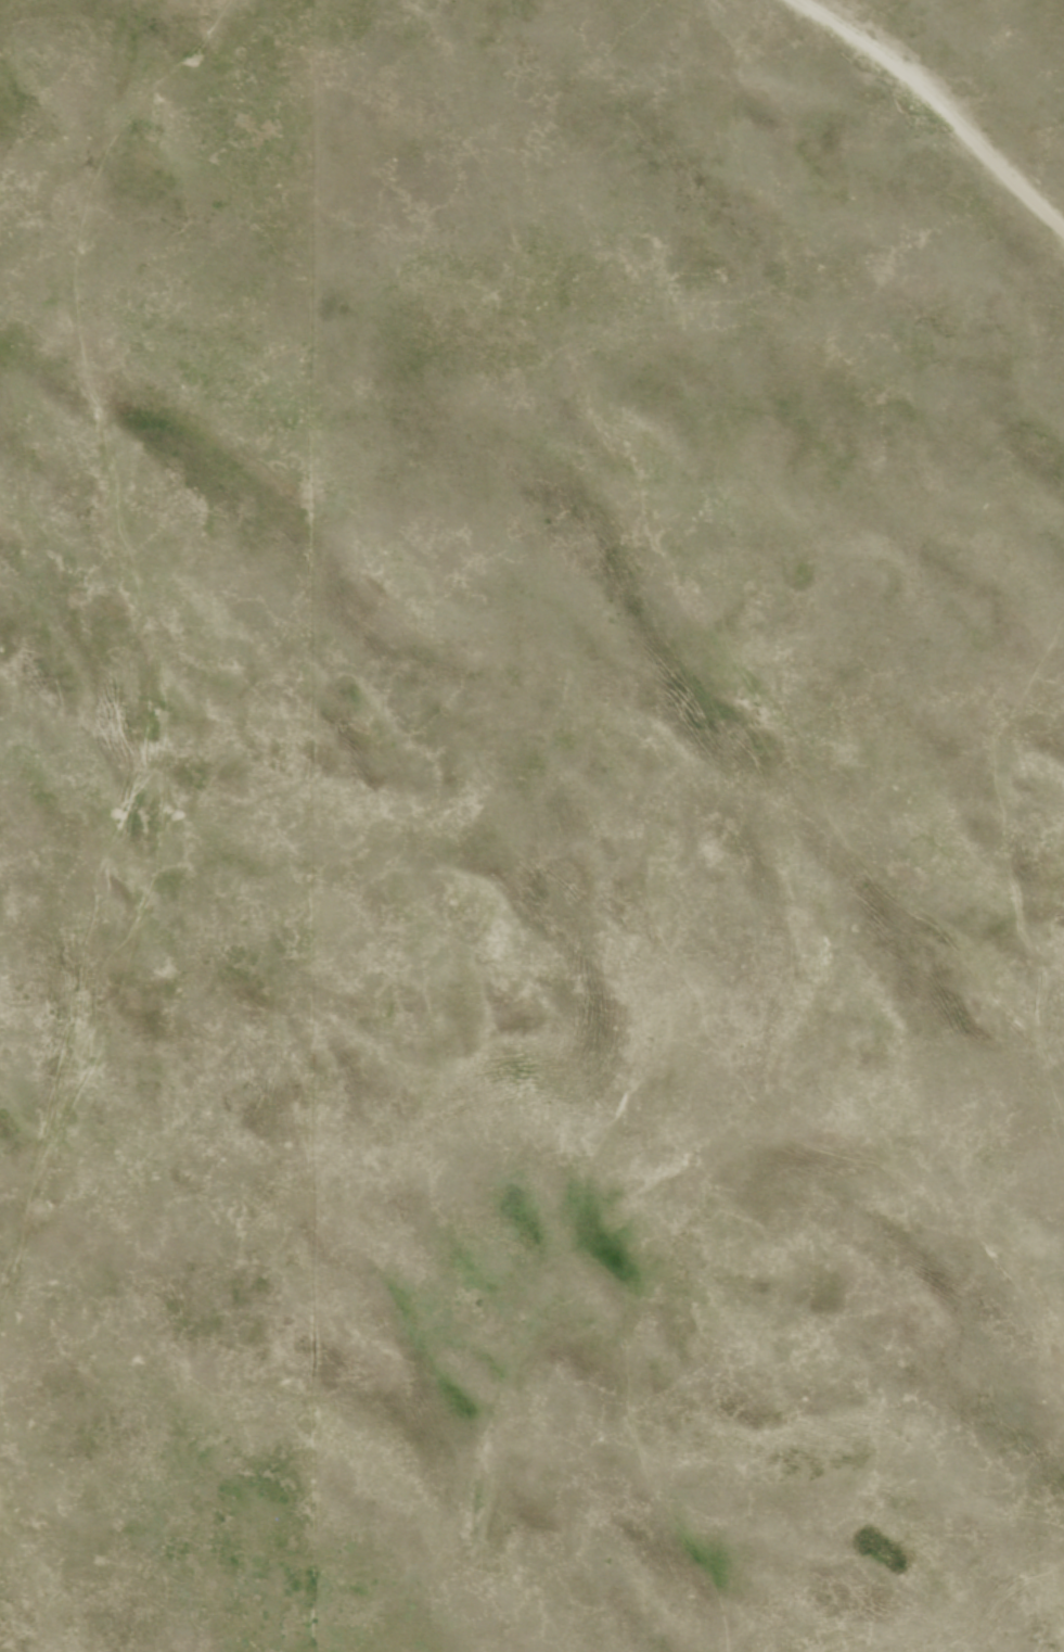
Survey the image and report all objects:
road: (938, 104)

